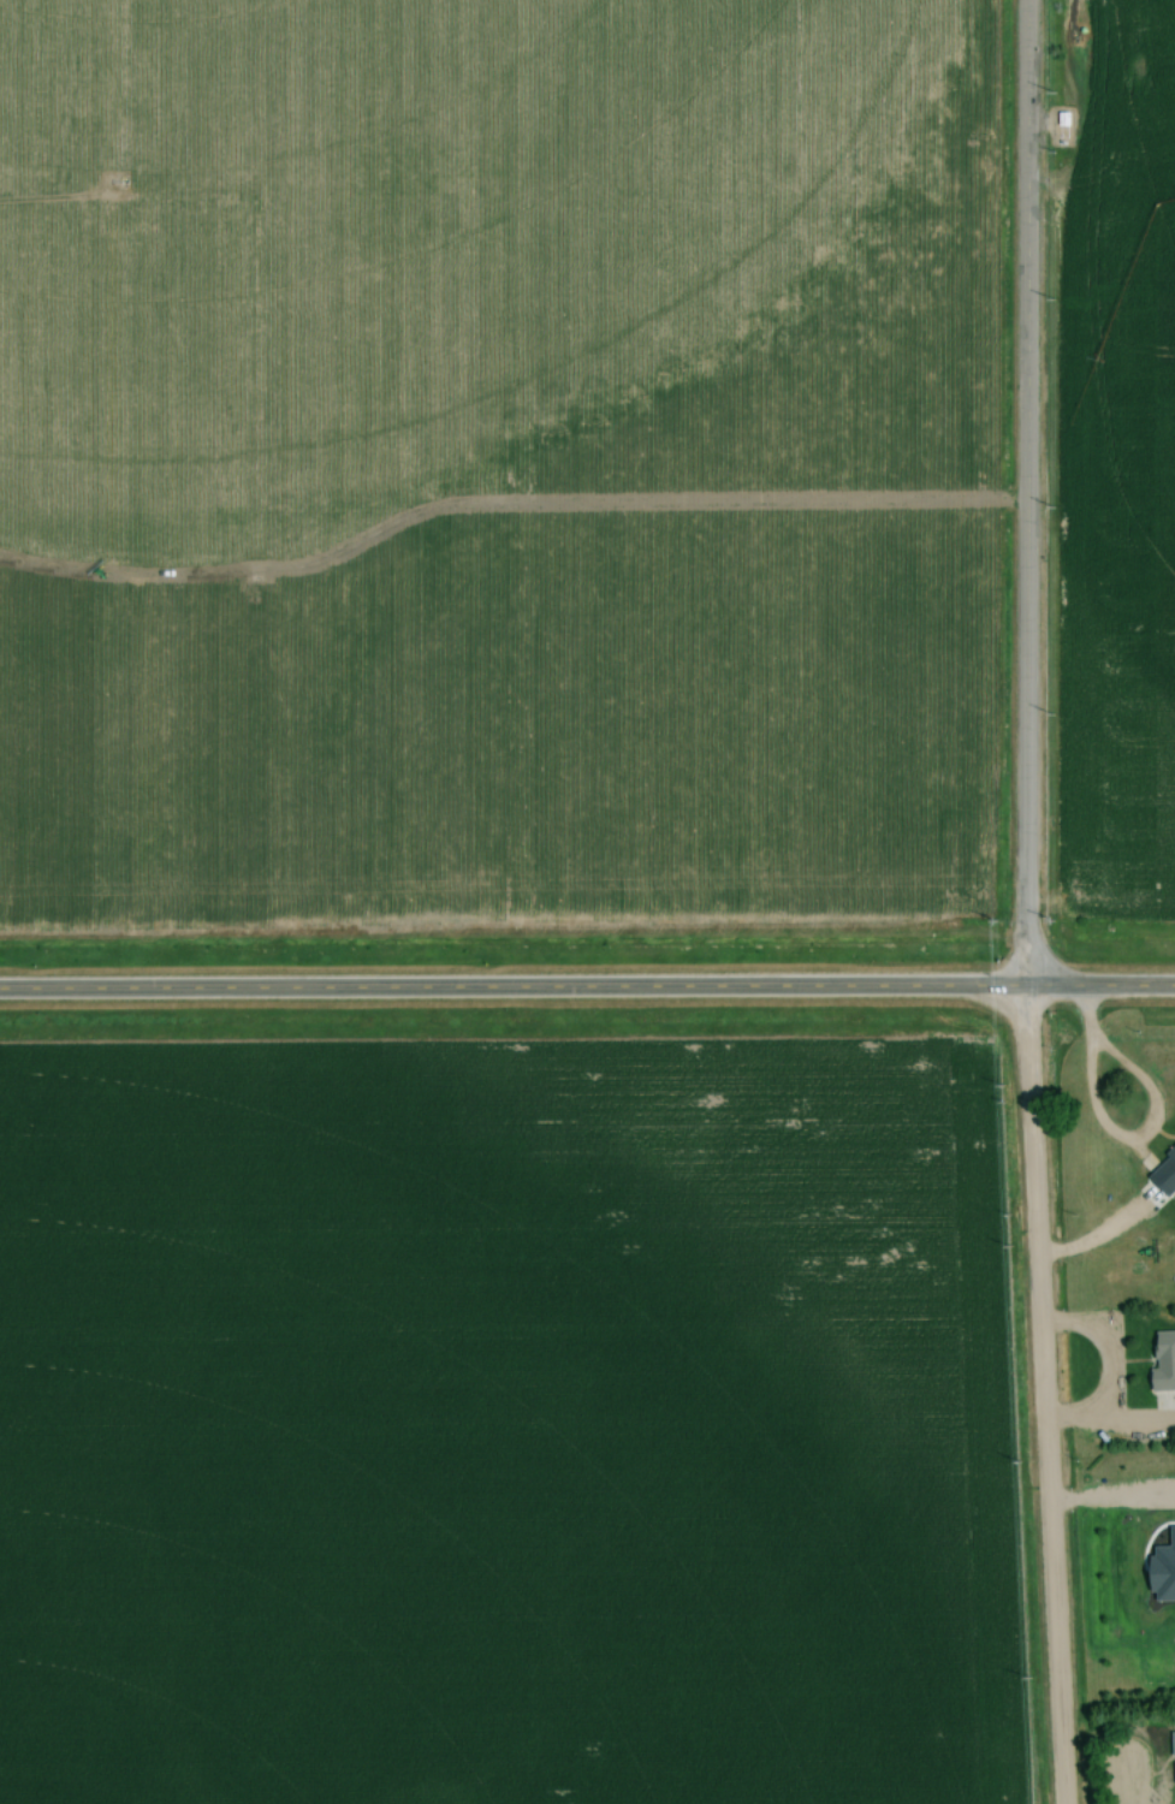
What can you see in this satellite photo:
road: (1027, 493)
road: (646, 987)
road: (59, 991)
road: (1094, 1082)
building: (1164, 1175)
building: (1163, 1364)
road: (1112, 1372)
road: (1044, 1394)
building: (1174, 1756)

